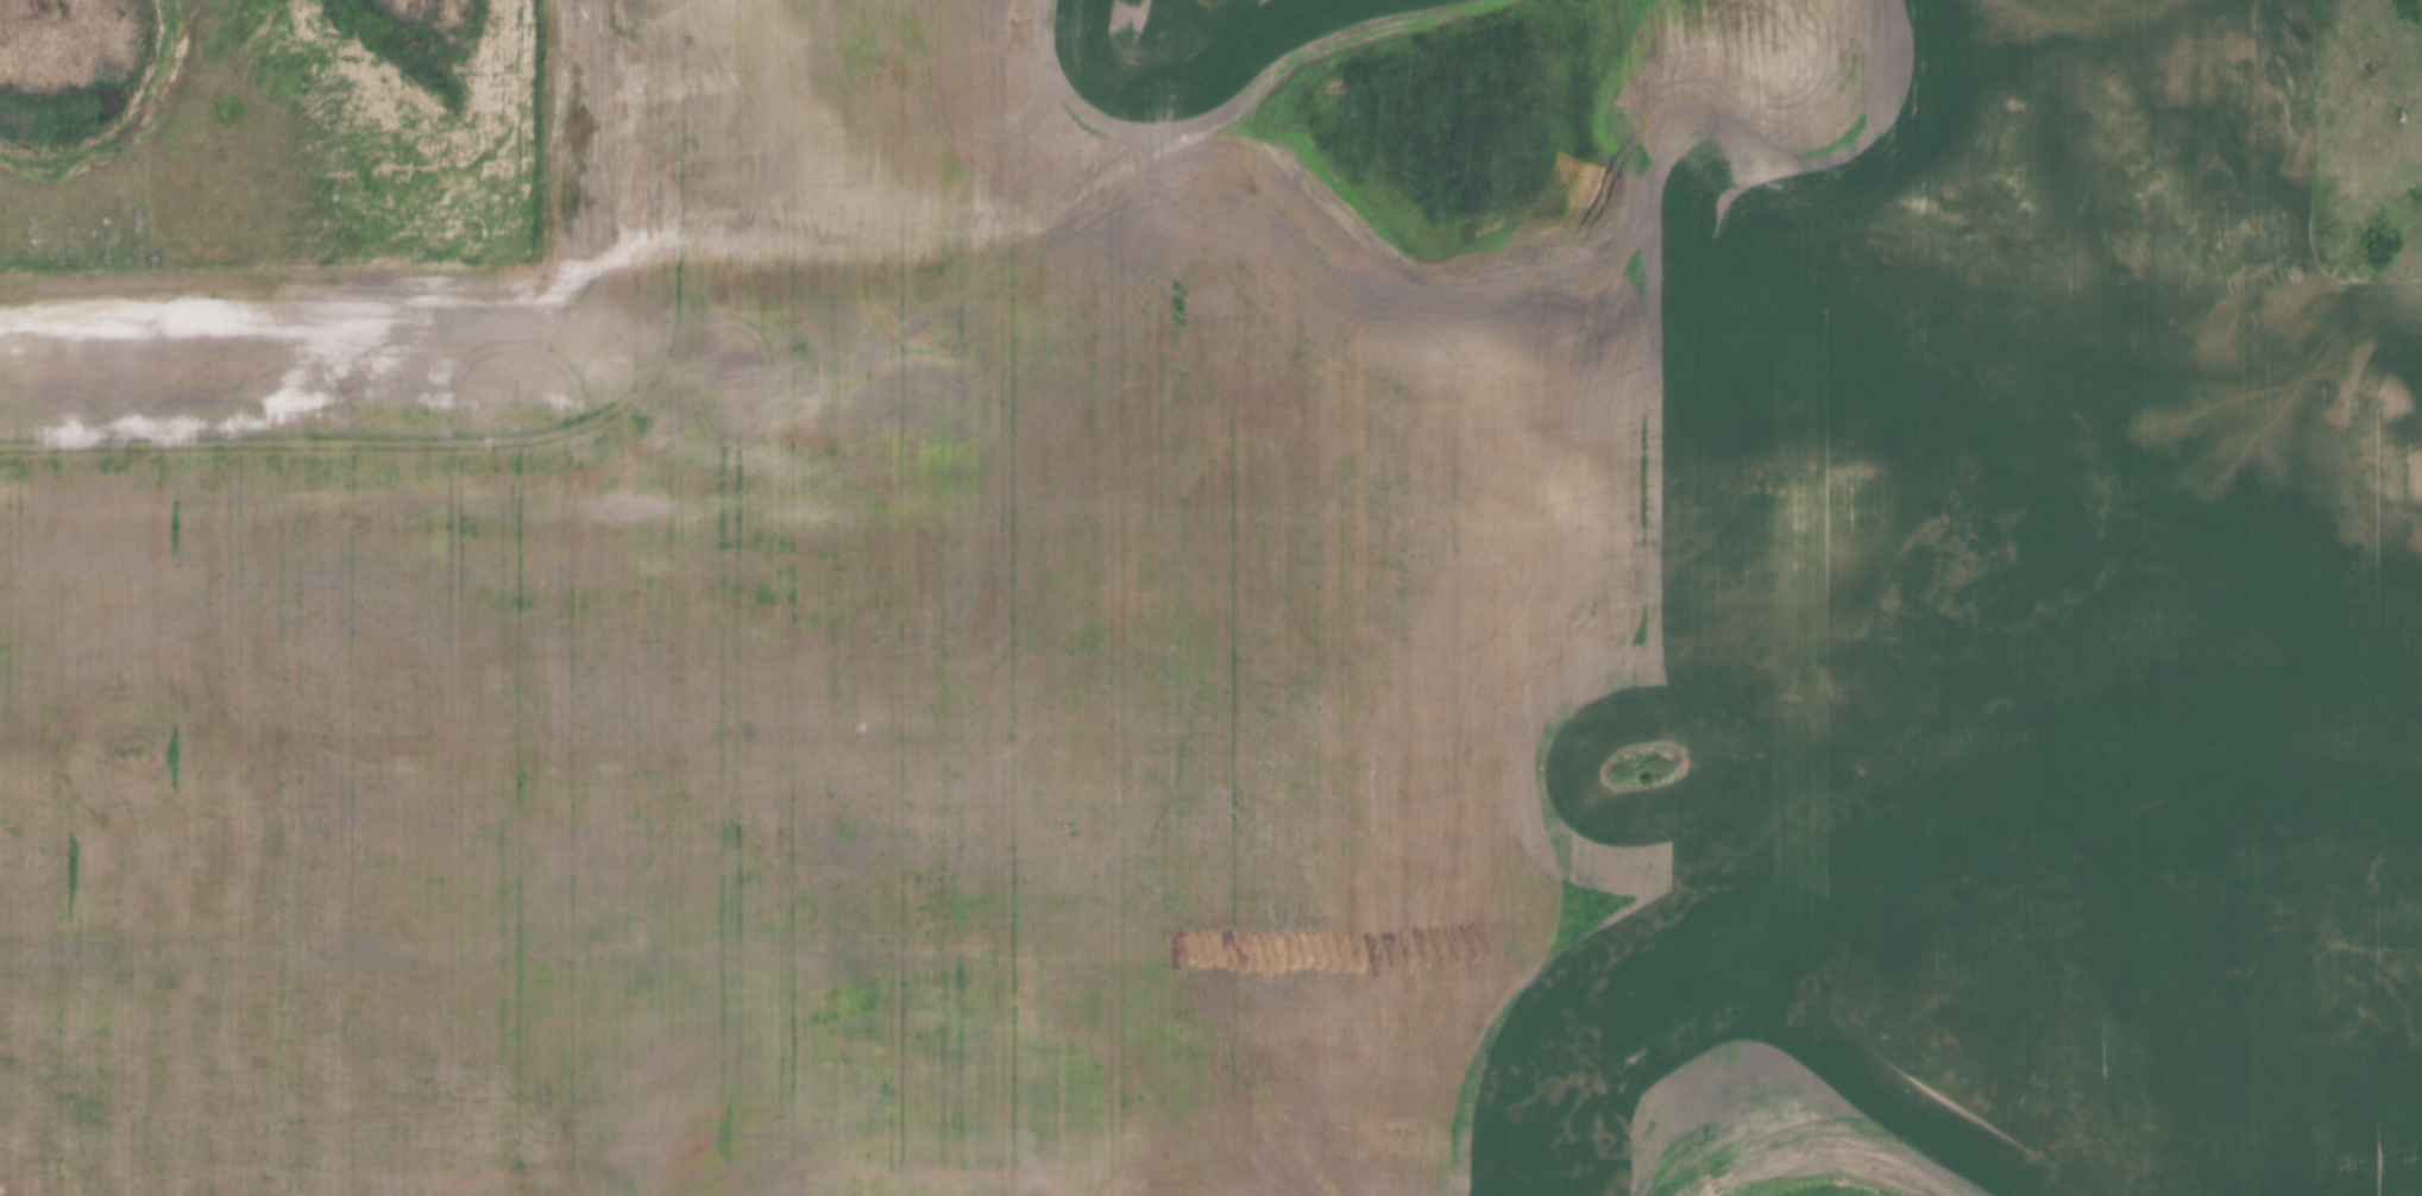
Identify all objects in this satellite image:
quarry: (2365, 141)

